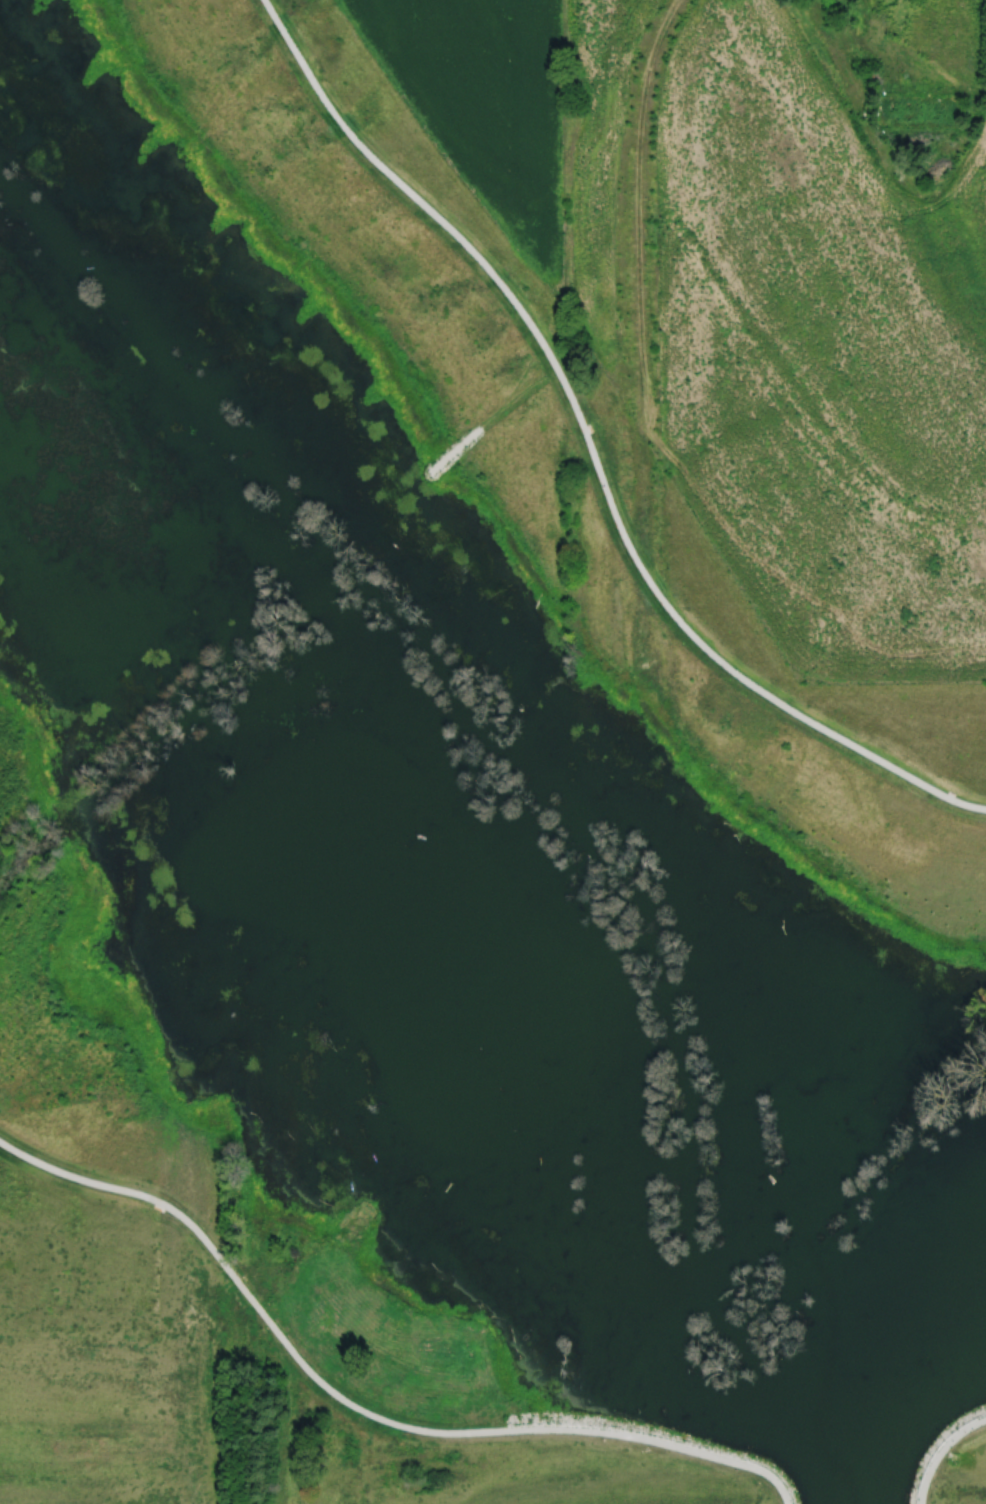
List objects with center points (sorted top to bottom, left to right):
building: (917, 110)
road: (491, 420)
road: (589, 449)
park: (431, 861)
building: (280, 1143)
building: (351, 1226)
building: (513, 1264)
building: (322, 1318)
building: (442, 1360)
road: (358, 1406)
road: (939, 1448)
building: (353, 1484)

